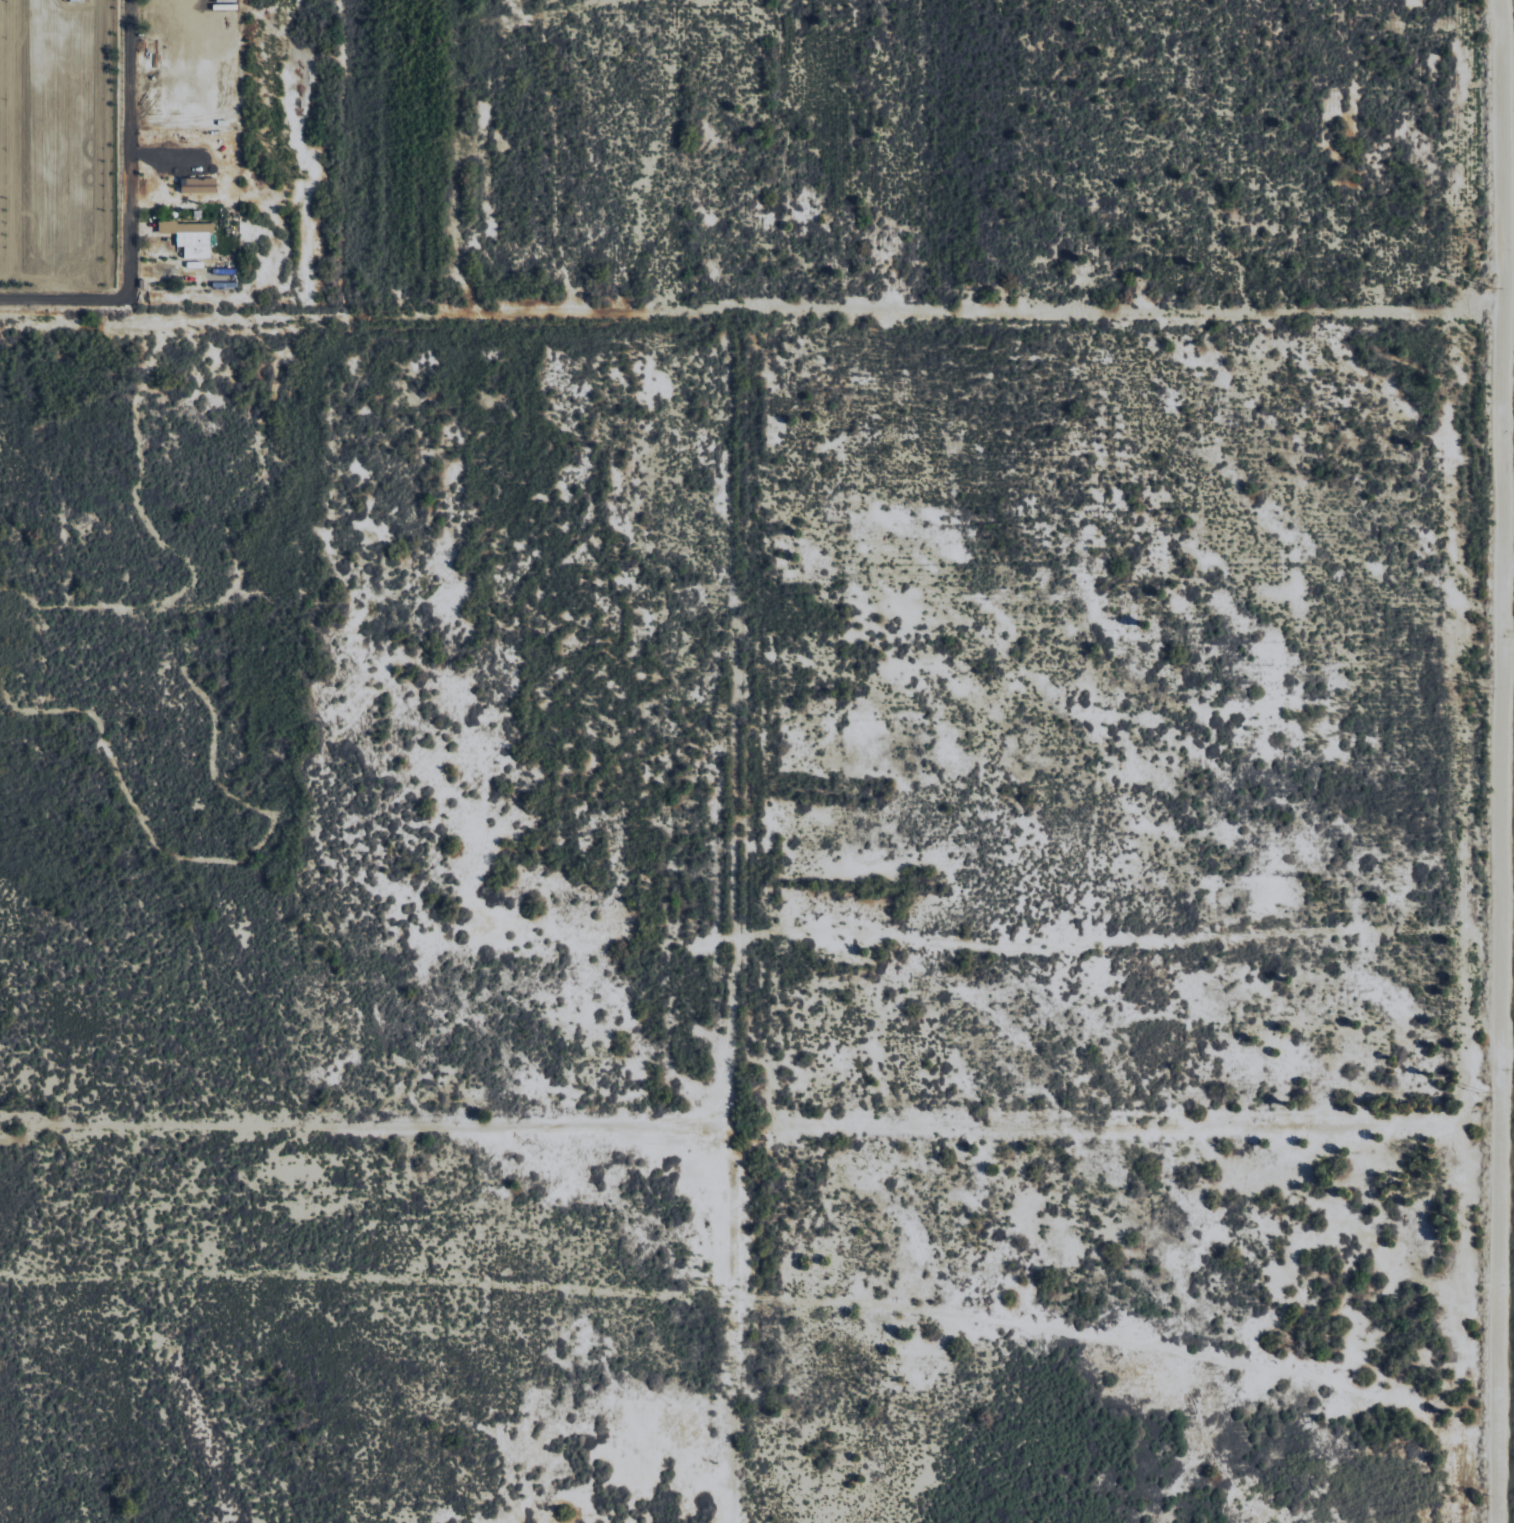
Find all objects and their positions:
building: (77, 0)
building: (199, 185)
building: (191, 237)
road: (127, 276)
power tower: (1490, 281)
power tower: (1488, 683)
power tower: (1489, 1091)
power tower: (1491, 1491)

